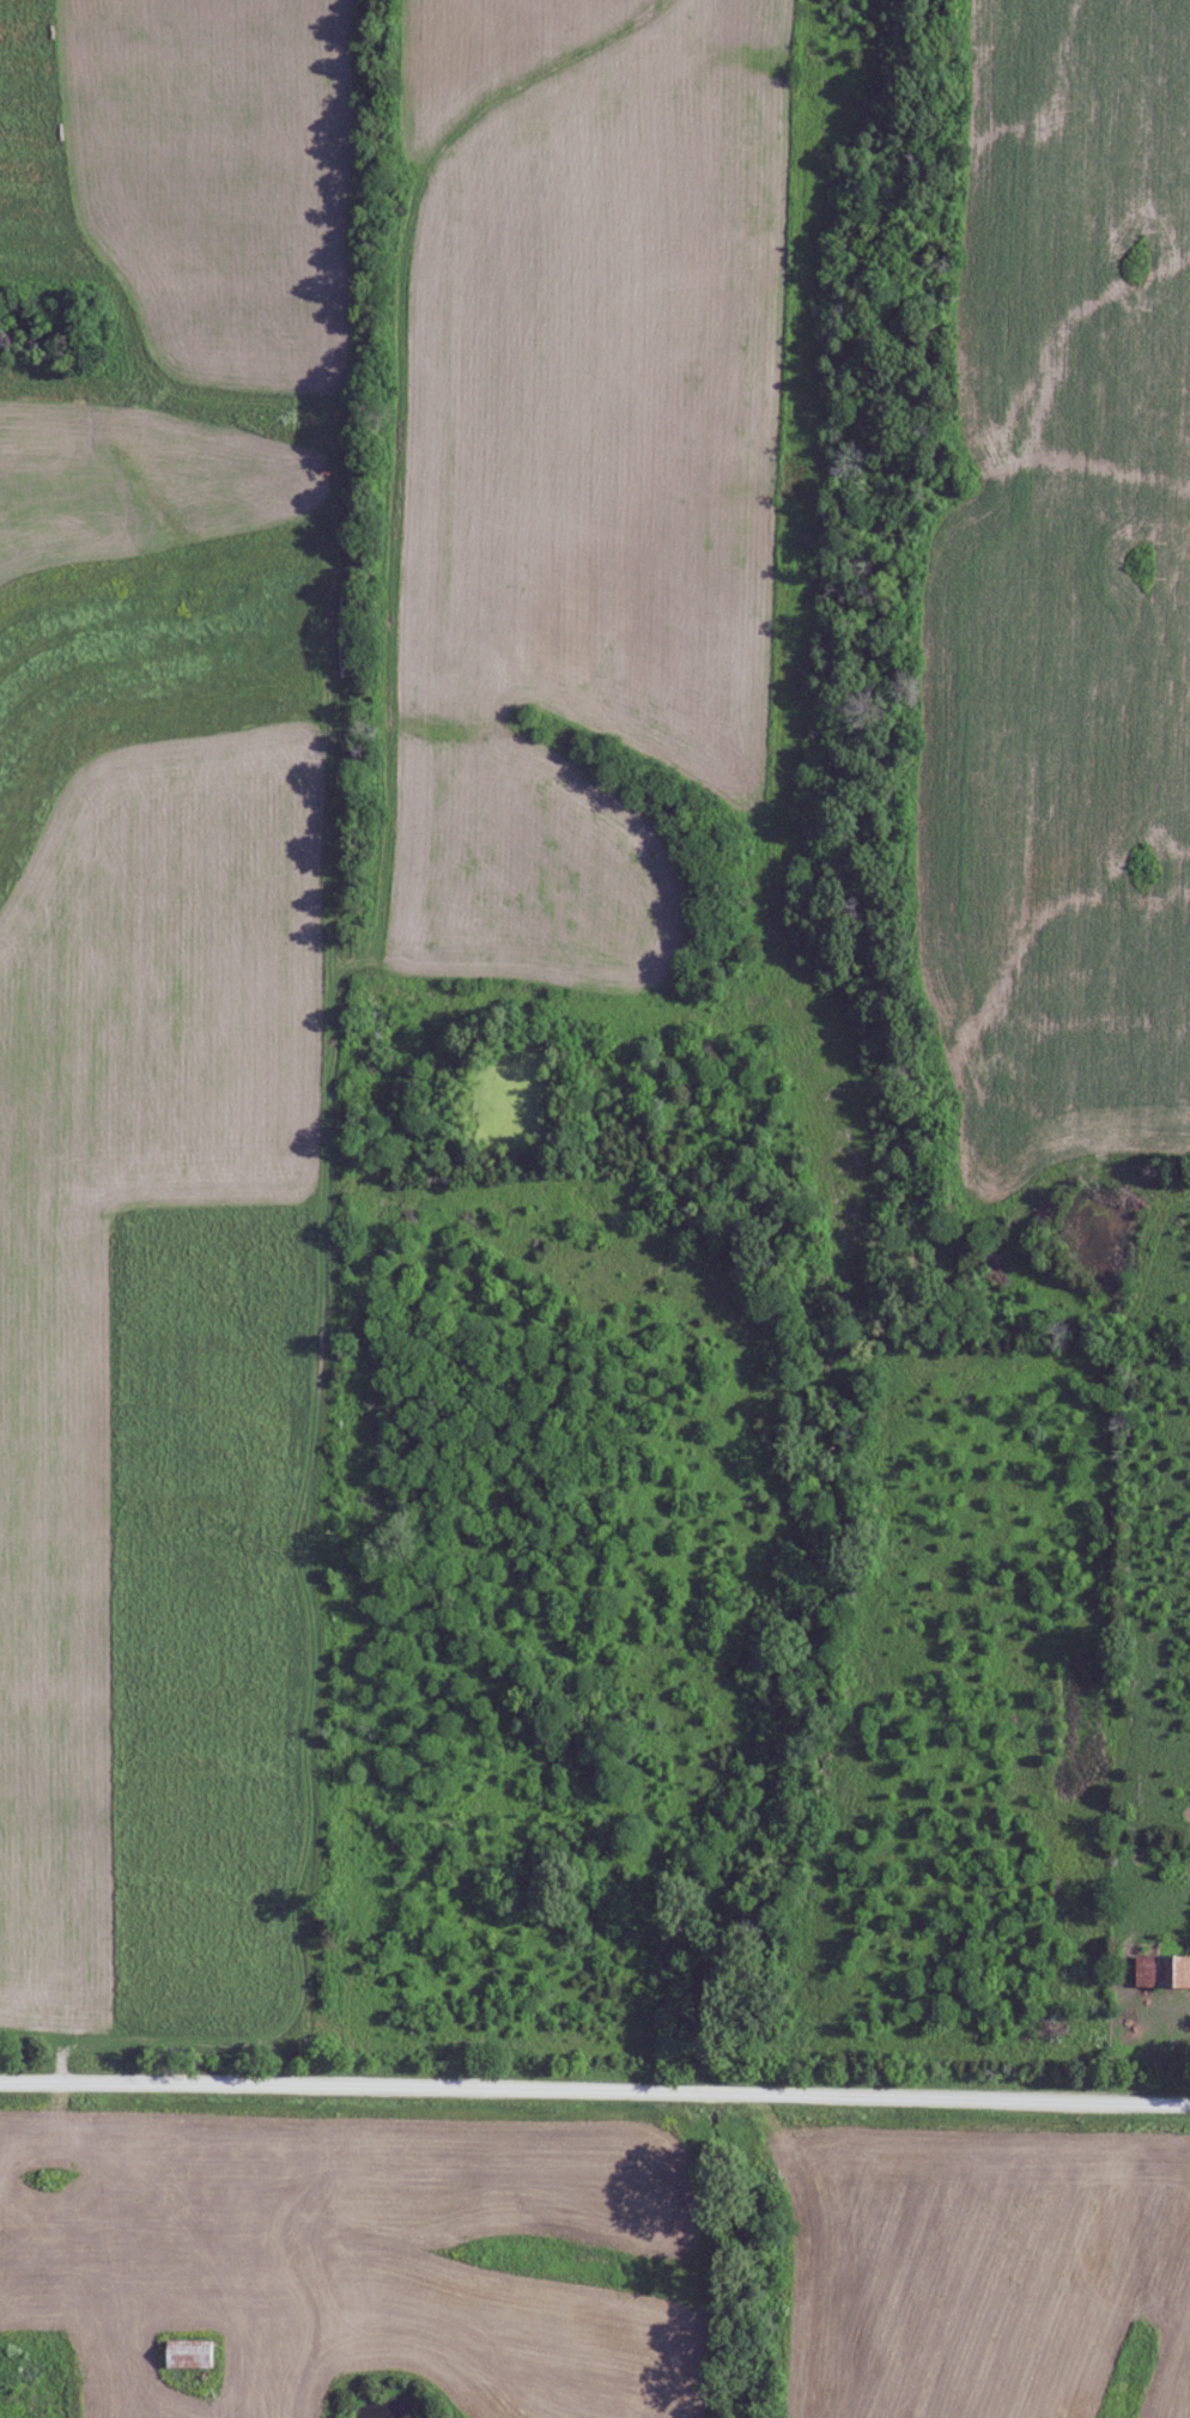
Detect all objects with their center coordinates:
building: (1162, 1969)
road: (595, 2094)
building: (187, 2352)

